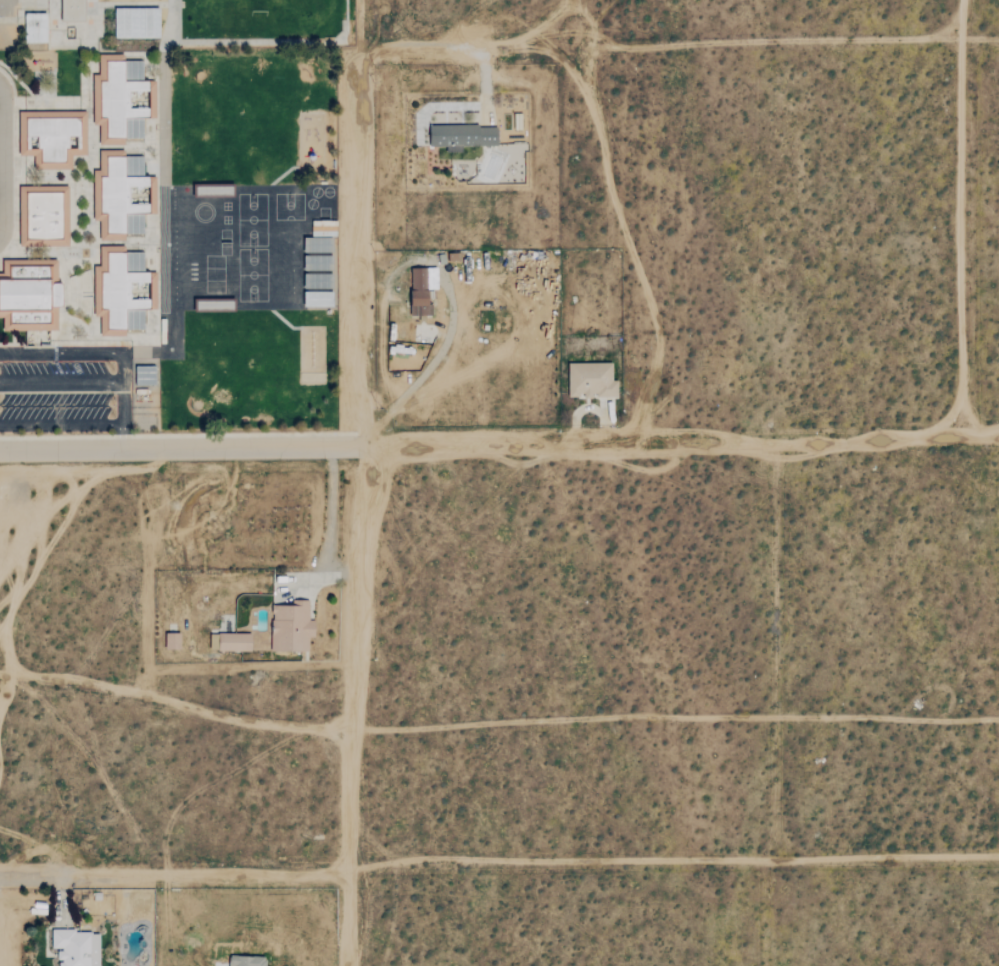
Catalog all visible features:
building: (71, 10)
park: (268, 22)
building: (138, 23)
building: (36, 28)
road: (675, 44)
building: (121, 100)
building: (464, 136)
building: (53, 138)
road: (2, 159)
building: (121, 195)
building: (43, 217)
road: (962, 217)
road: (443, 275)
building: (422, 289)
building: (121, 291)
building: (29, 296)
building: (319, 300)
road: (110, 353)
building: (147, 376)
building: (591, 379)
road: (62, 382)
road: (62, 422)
road: (680, 443)
road: (180, 449)
road: (358, 512)
building: (292, 626)
building: (234, 640)
building: (173, 641)
road: (569, 867)
road: (69, 876)
building: (77, 947)
building: (247, 960)

